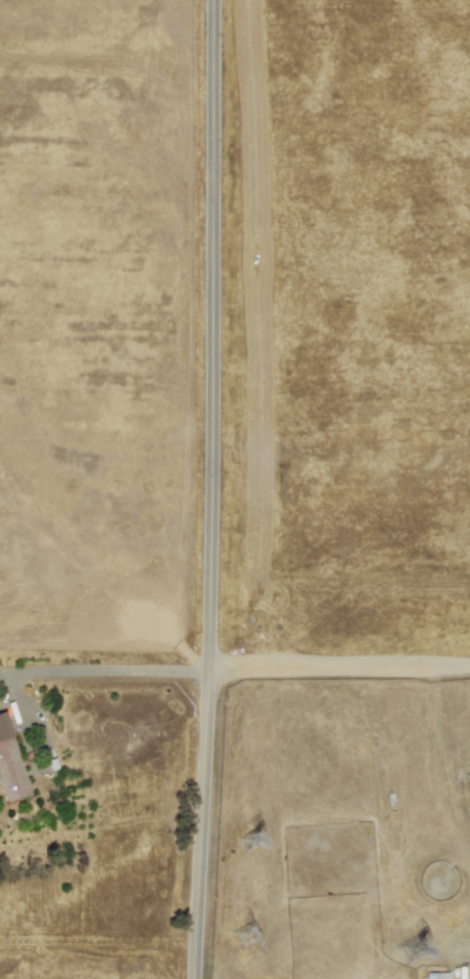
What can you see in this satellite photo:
road: (209, 489)
road: (338, 667)
road: (118, 673)
road: (14, 679)
building: (10, 765)
power tower: (251, 845)
power tower: (251, 937)
power tower: (418, 952)
building: (435, 975)

